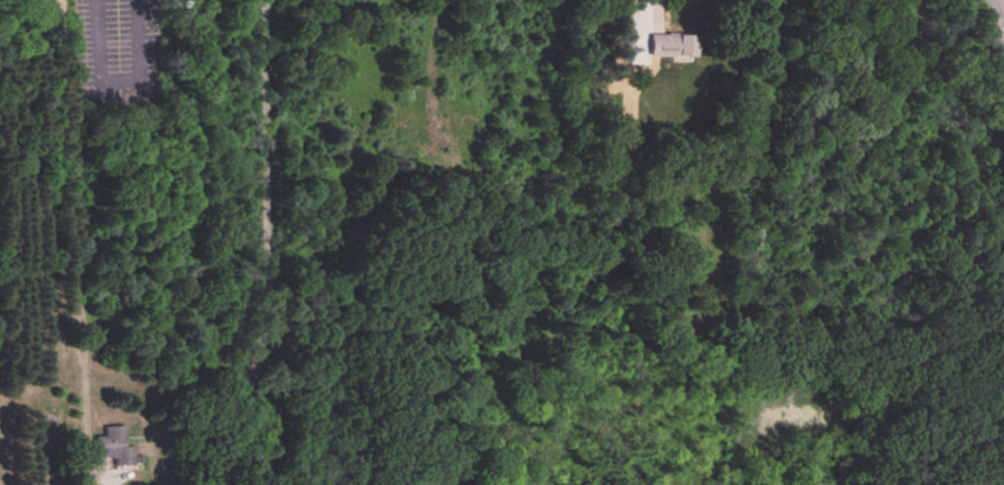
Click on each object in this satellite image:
railway: (1003, 2)
road: (657, 11)
building: (670, 47)
road: (75, 85)
road: (267, 244)
building: (112, 446)

